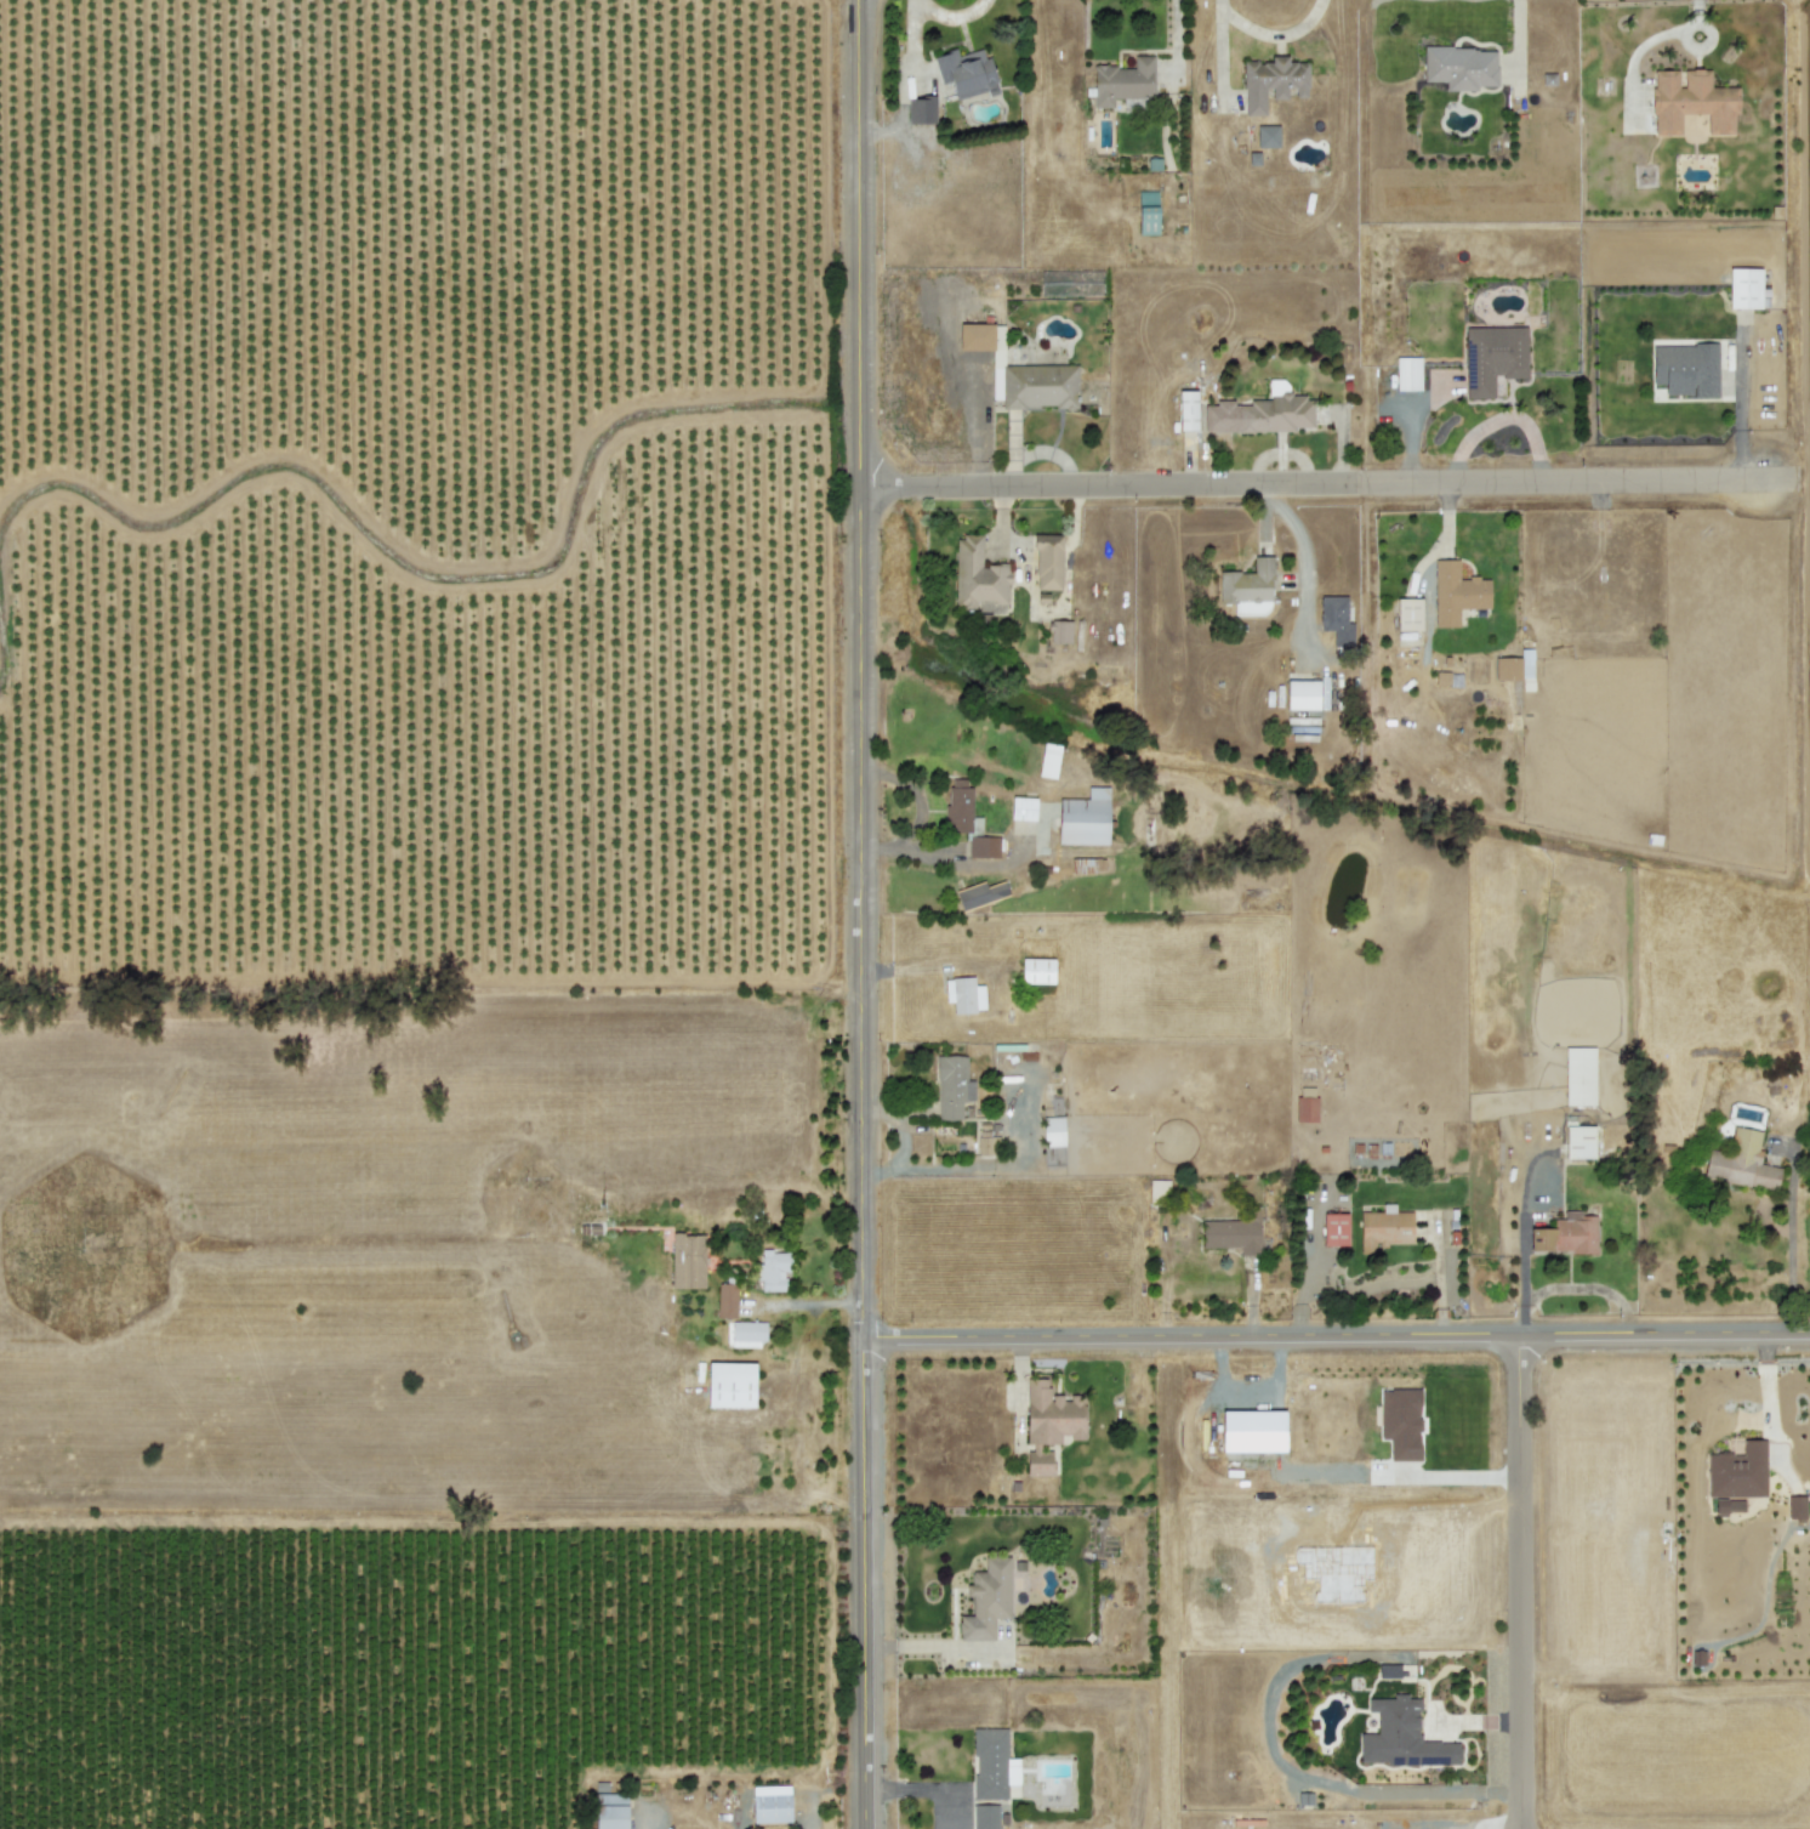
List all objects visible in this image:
building: (1461, 66)
building: (966, 70)
building: (1122, 80)
building: (1271, 81)
building: (1691, 101)
building: (921, 108)
building: (1267, 135)
building: (1146, 211)
building: (1744, 286)
building: (974, 336)
building: (1492, 357)
building: (1685, 368)
building: (1407, 373)
building: (1038, 385)
building: (1186, 409)
building: (1275, 410)
road: (1738, 416)
road: (1309, 482)
road: (1308, 553)
building: (1047, 560)
building: (977, 574)
building: (1248, 587)
building: (1456, 592)
building: (1407, 613)
building: (1334, 618)
building: (1059, 630)
crop: (1677, 631)
building: (1514, 665)
building: (1302, 694)
building: (1048, 759)
building: (961, 807)
building: (1023, 807)
building: (1085, 817)
building: (984, 845)
building: (979, 893)
road: (861, 914)
crop: (438, 915)
building: (1037, 970)
building: (964, 993)
building: (1578, 1075)
building: (952, 1085)
building: (1305, 1108)
building: (1053, 1130)
building: (1578, 1141)
building: (987, 1144)
building: (1741, 1160)
building: (1159, 1191)
building: (1334, 1228)
building: (1384, 1228)
building: (1234, 1232)
building: (1565, 1233)
building: (687, 1260)
building: (773, 1269)
building: (725, 1299)
road: (804, 1301)
building: (747, 1331)
road: (1337, 1333)
building: (730, 1382)
road: (1769, 1398)
building: (1400, 1421)
building: (1048, 1422)
building: (1251, 1430)
building: (1737, 1471)
road: (1450, 1475)
building: (1795, 1506)
road: (1515, 1580)
crop: (1487, 1591)
building: (986, 1598)
building: (1401, 1736)
building: (992, 1763)
road: (929, 1789)
building: (770, 1802)
building: (610, 1811)
building: (985, 1816)

